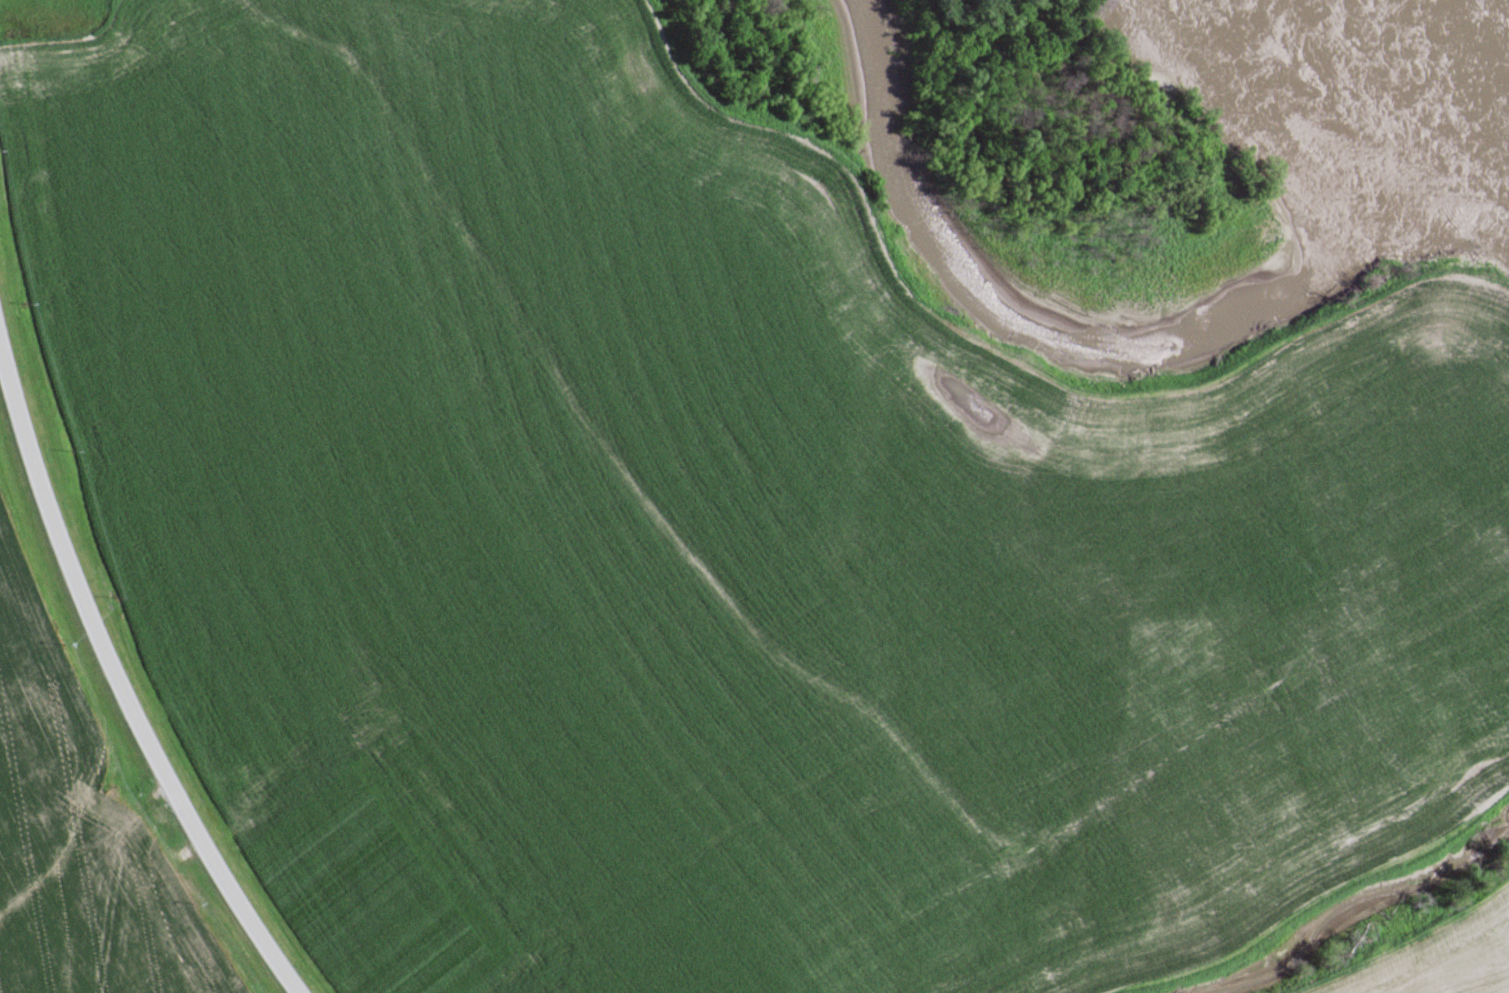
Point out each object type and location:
river: (1013, 292)
road: (122, 672)

